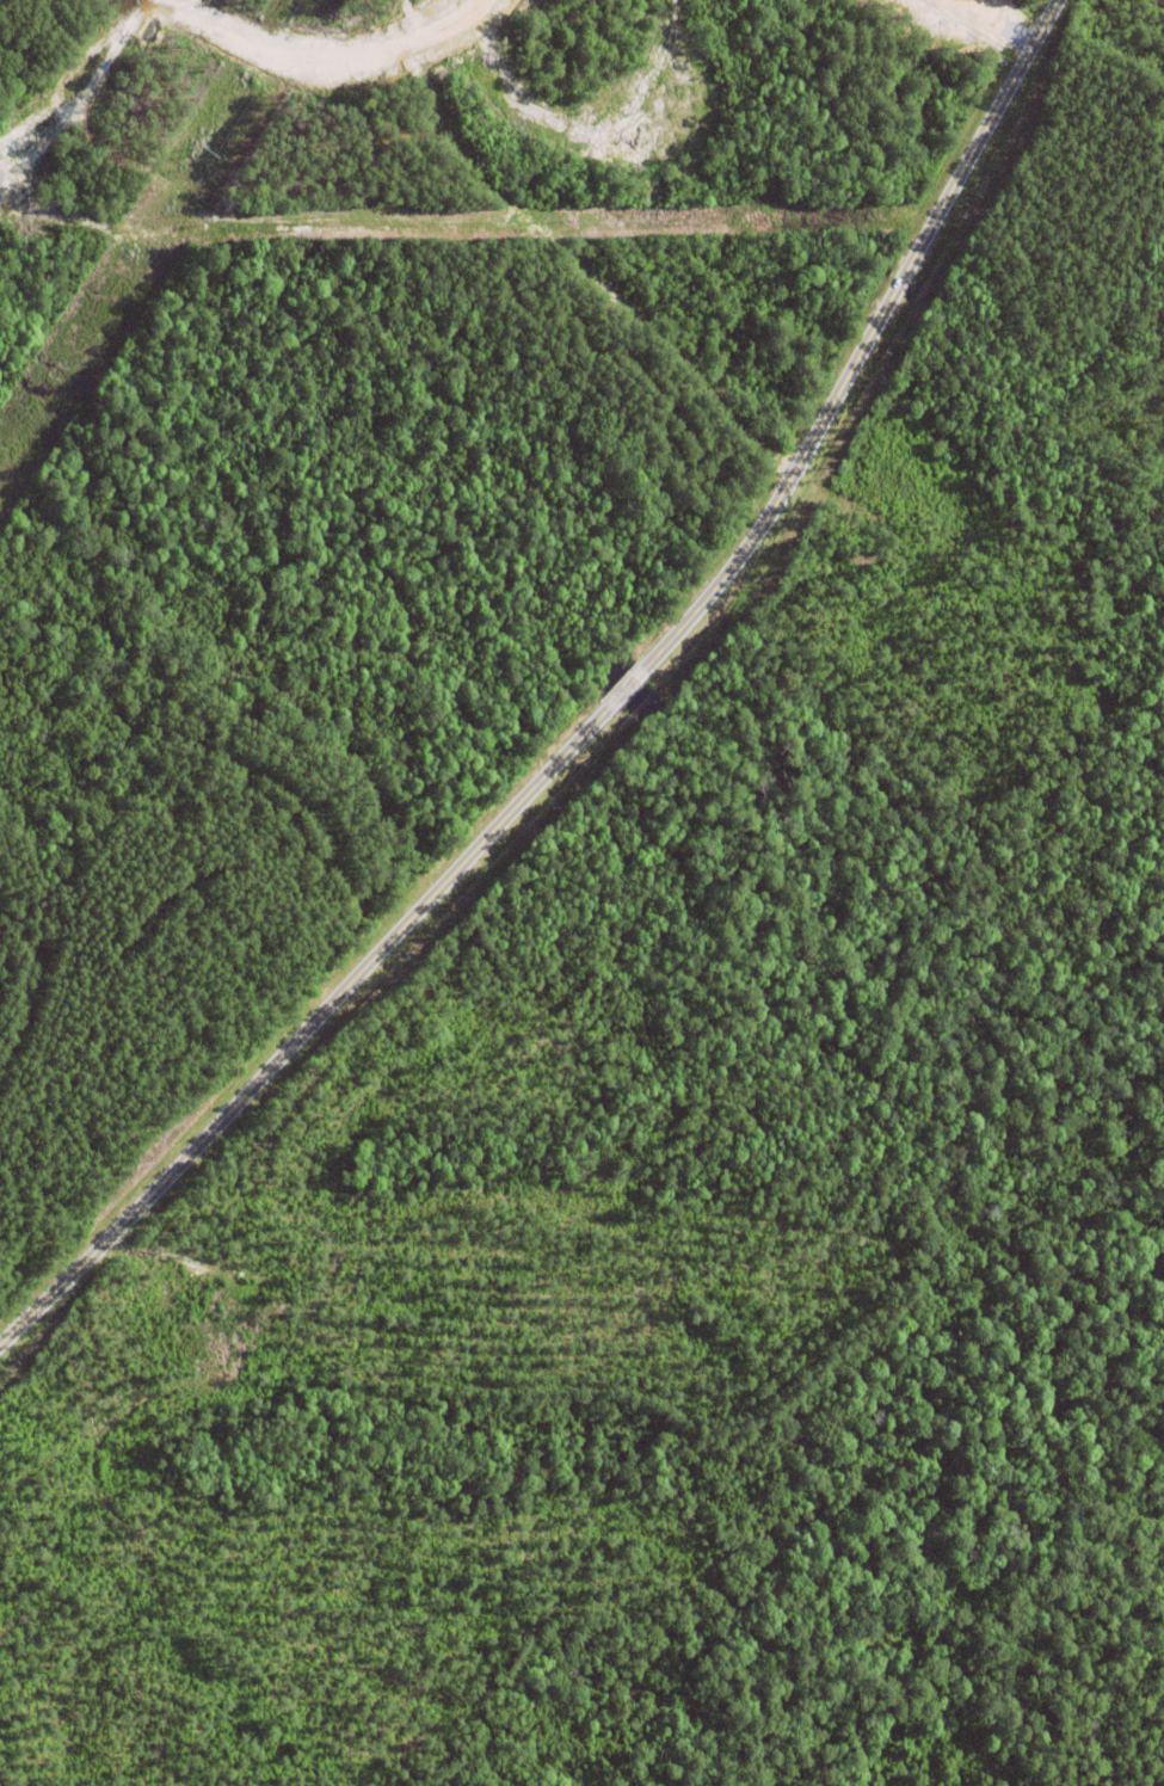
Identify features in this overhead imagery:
road: (566, 257)
road: (595, 721)

